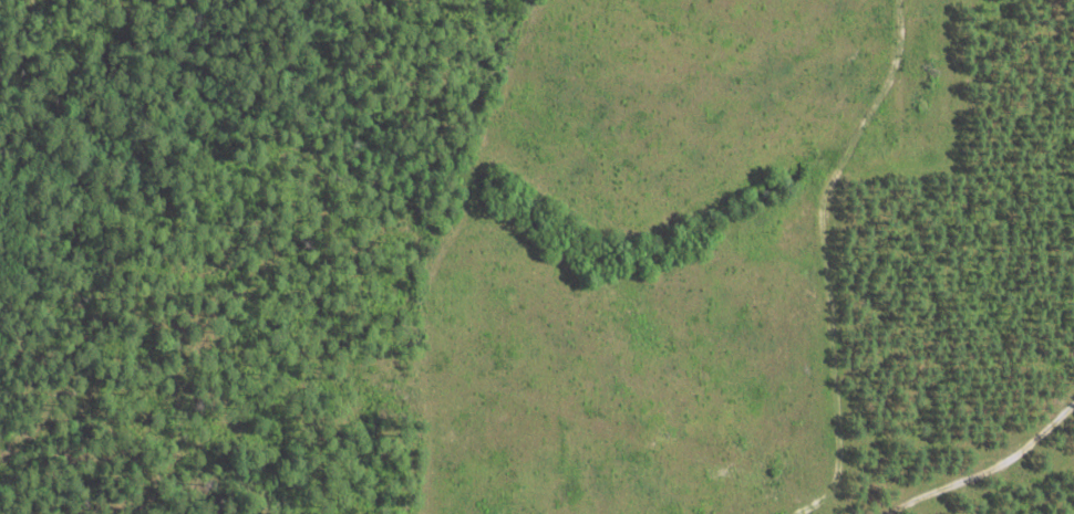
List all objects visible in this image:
road: (987, 460)

